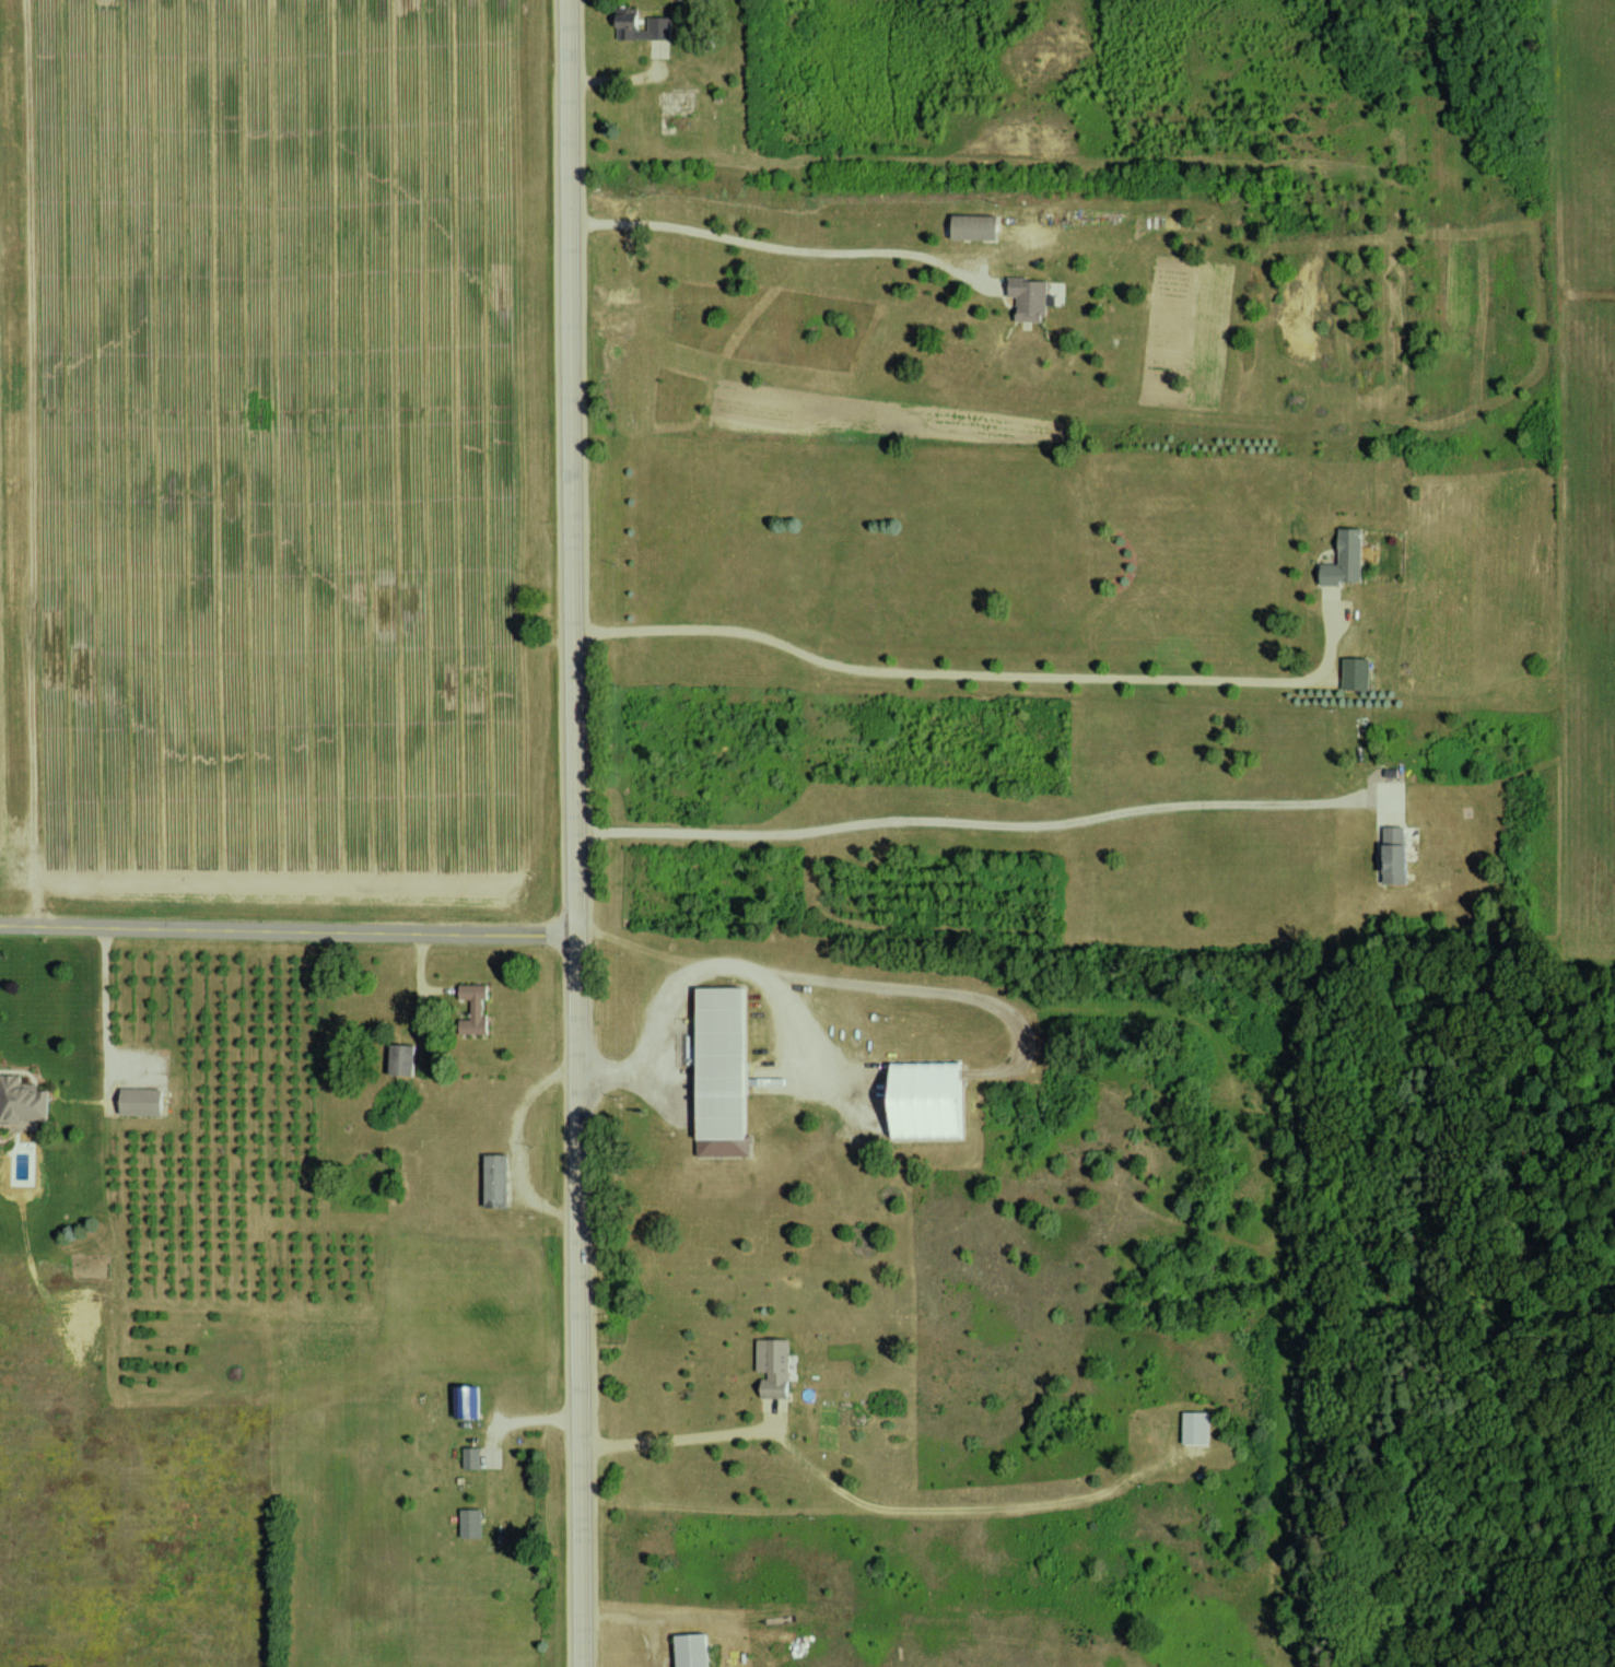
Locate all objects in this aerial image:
building: (649, 26)
road: (624, 78)
building: (981, 227)
road: (781, 248)
building: (1035, 298)
building: (1348, 560)
road: (937, 671)
building: (1359, 674)
road: (961, 821)
road: (577, 833)
building: (1401, 855)
road: (289, 930)
road: (691, 974)
road: (929, 988)
building: (479, 1007)
building: (406, 1059)
building: (728, 1071)
building: (24, 1100)
building: (934, 1100)
building: (145, 1101)
road: (522, 1142)
building: (500, 1179)
building: (779, 1366)
building: (470, 1401)
road: (546, 1420)
building: (1201, 1427)
building: (473, 1457)
road: (855, 1493)
road: (1018, 1505)
building: (473, 1523)
building: (697, 1650)

